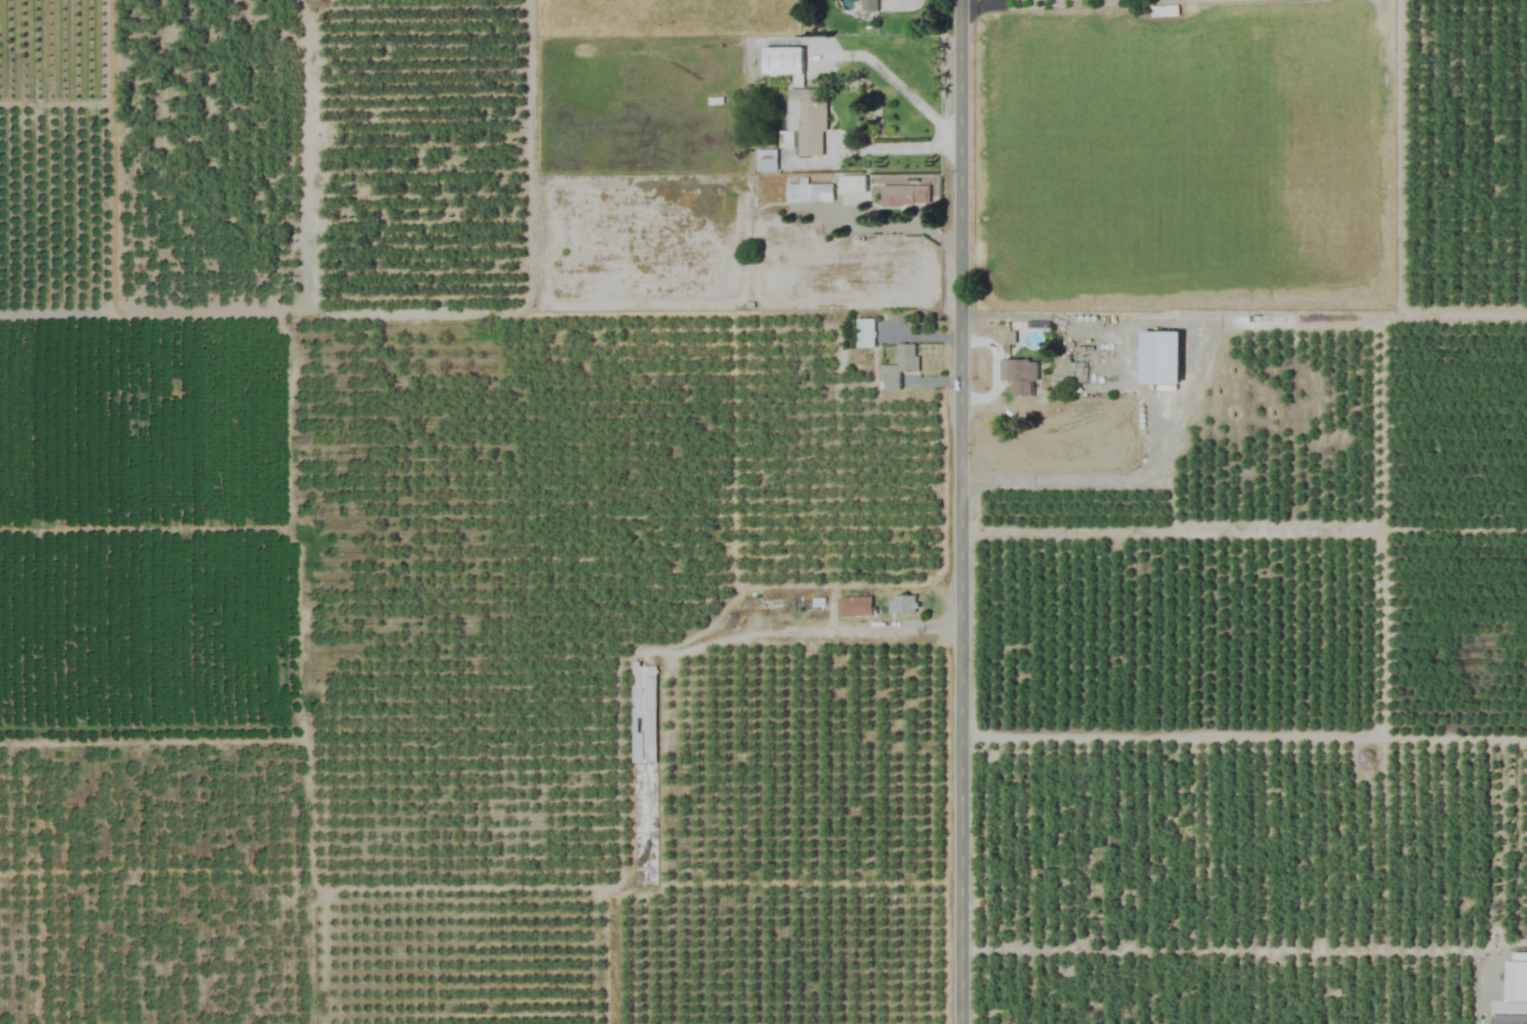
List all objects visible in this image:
building: (1164, 10)
building: (782, 60)
road: (896, 78)
building: (804, 122)
road: (896, 141)
building: (765, 160)
building: (852, 183)
building: (808, 192)
building: (904, 195)
road: (1007, 313)
building: (864, 332)
building: (1160, 357)
road: (996, 364)
building: (898, 366)
building: (1018, 374)
road: (1086, 479)
road: (963, 512)
road: (1166, 528)
building: (902, 604)
building: (854, 606)
road: (802, 627)
building: (644, 774)
building: (1516, 979)
road: (1511, 1006)
building: (1508, 1019)

